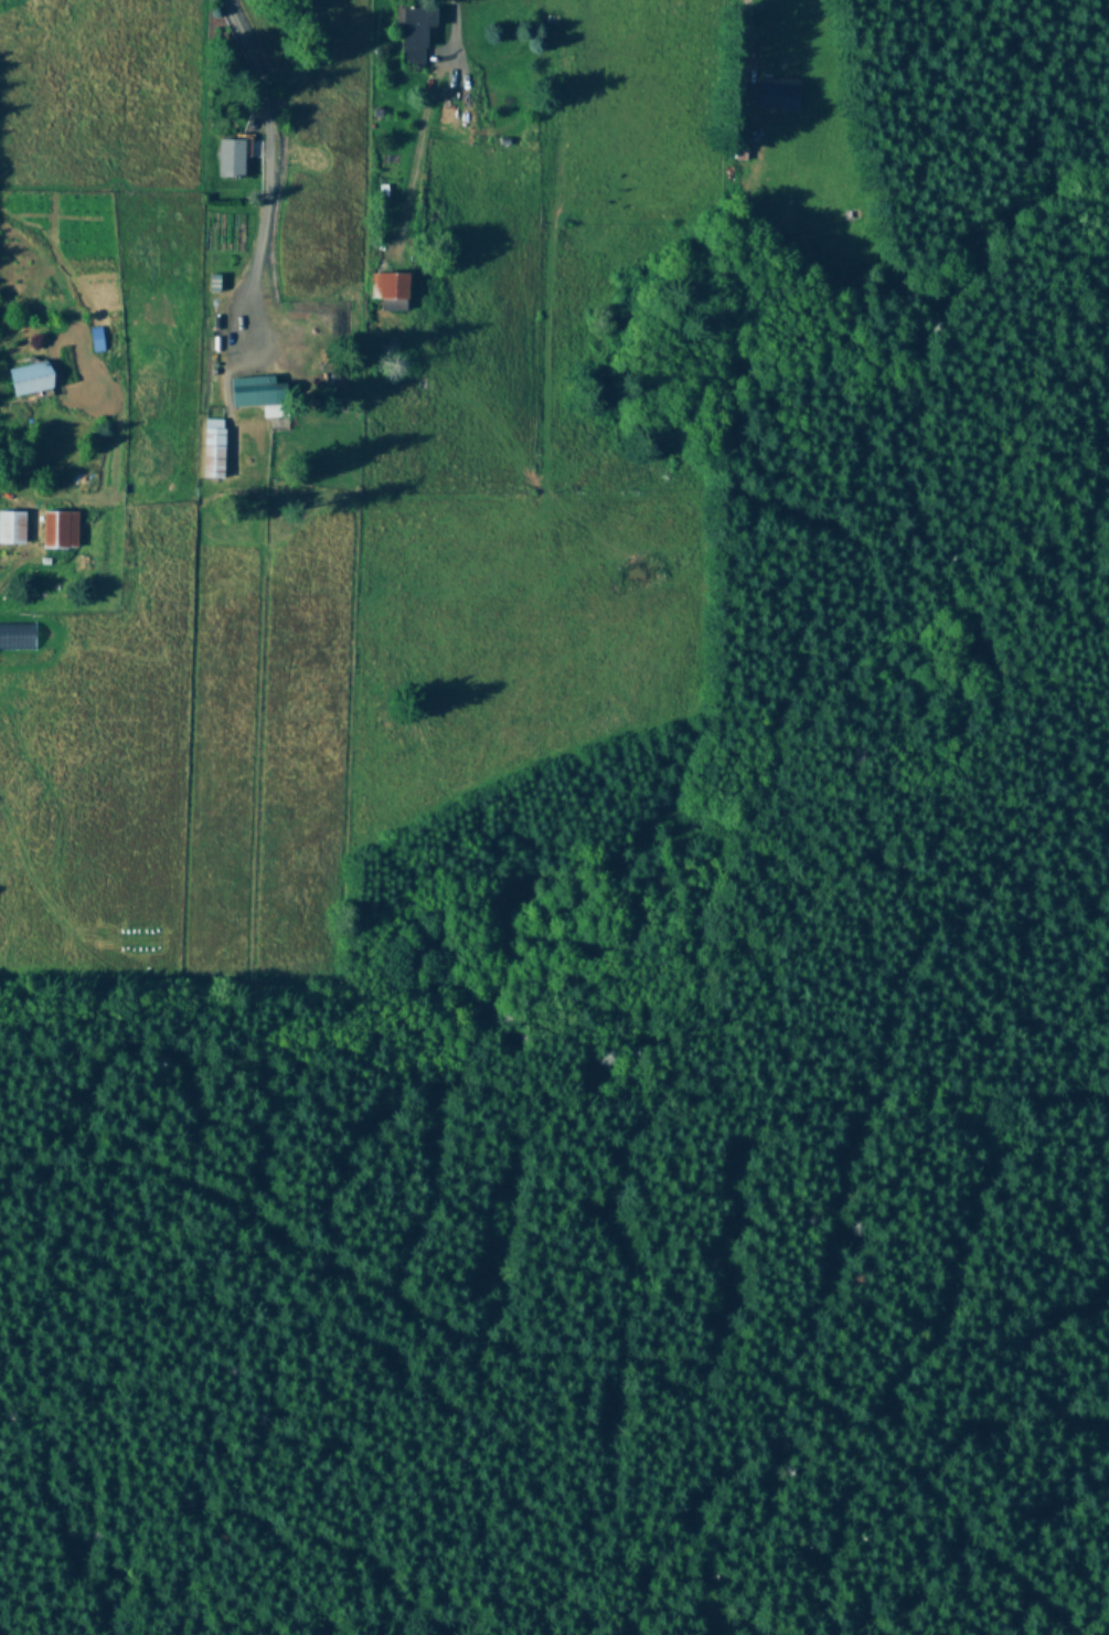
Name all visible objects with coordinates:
building: (413, 35)
building: (779, 95)
building: (231, 159)
building: (394, 291)
building: (97, 340)
building: (31, 379)
building: (260, 395)
building: (213, 450)
building: (12, 529)
building: (60, 531)
road: (495, 1329)

